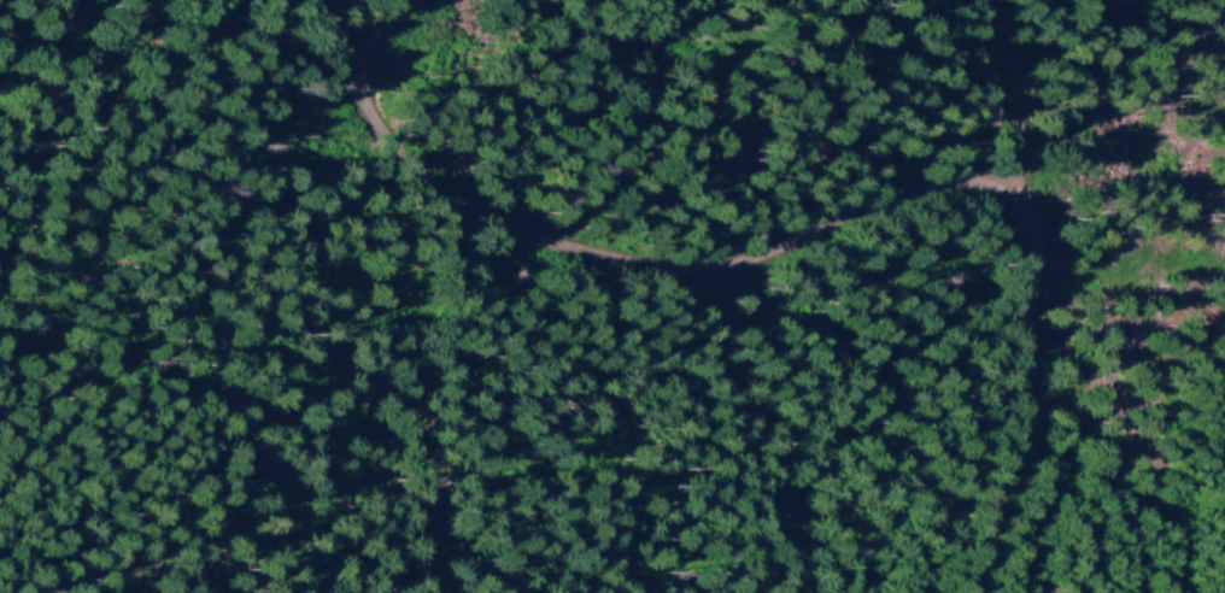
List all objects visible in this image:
road: (434, 55)
road: (205, 80)
road: (903, 225)
road: (868, 418)

